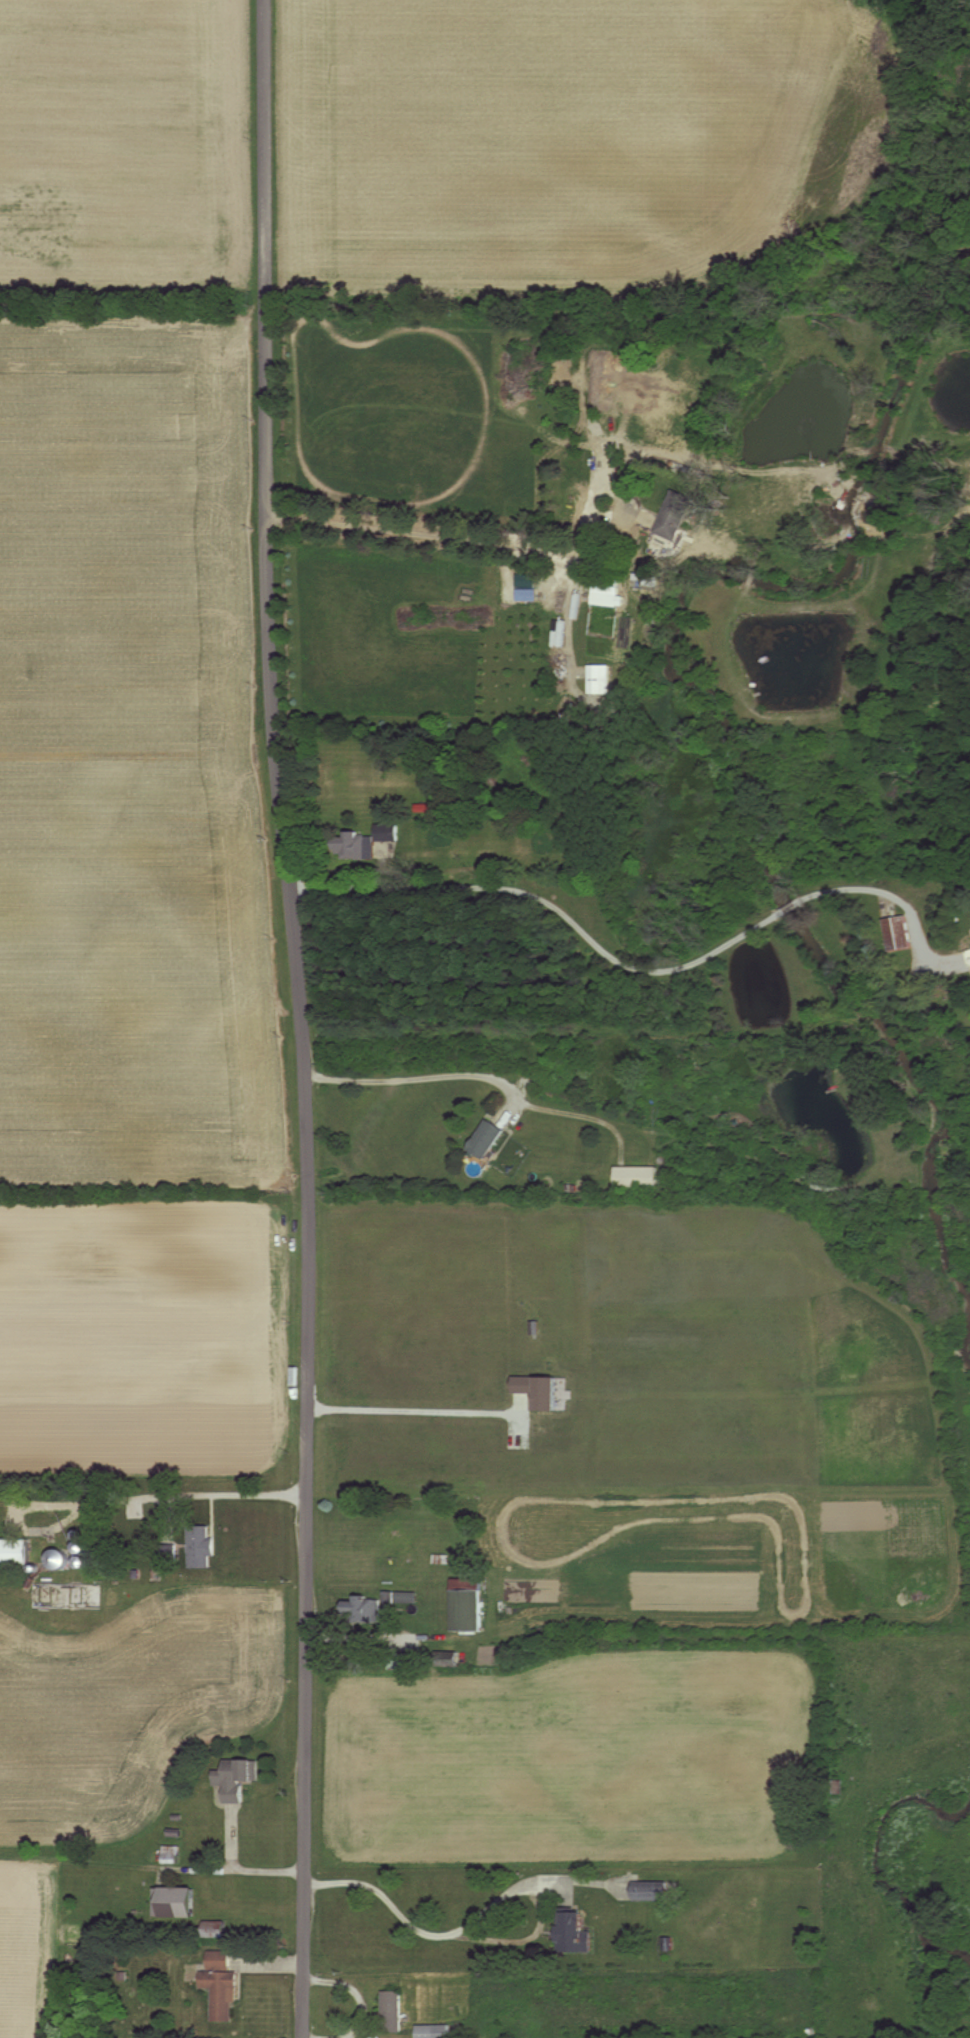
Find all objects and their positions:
building: (675, 516)
road: (458, 538)
building: (606, 585)
building: (598, 679)
building: (362, 842)
road: (426, 869)
building: (897, 933)
building: (968, 956)
road: (636, 968)
road: (300, 1018)
road: (416, 1075)
building: (487, 1140)
building: (635, 1178)
building: (533, 1327)
building: (538, 1390)
road: (411, 1409)
road: (150, 1496)
road: (165, 1518)
building: (79, 1535)
building: (199, 1545)
building: (80, 1547)
building: (14, 1552)
building: (166, 1552)
building: (58, 1559)
building: (80, 1562)
building: (34, 1568)
road: (13, 1594)
building: (466, 1606)
building: (360, 1610)
building: (446, 1659)
building: (235, 1776)
building: (170, 1855)
road: (238, 1869)
building: (650, 1893)
building: (174, 1900)
building: (573, 1932)
building: (73, 1935)
road: (477, 1937)
crop: (26, 1950)
building: (220, 1987)
building: (390, 2011)
building: (431, 2031)

